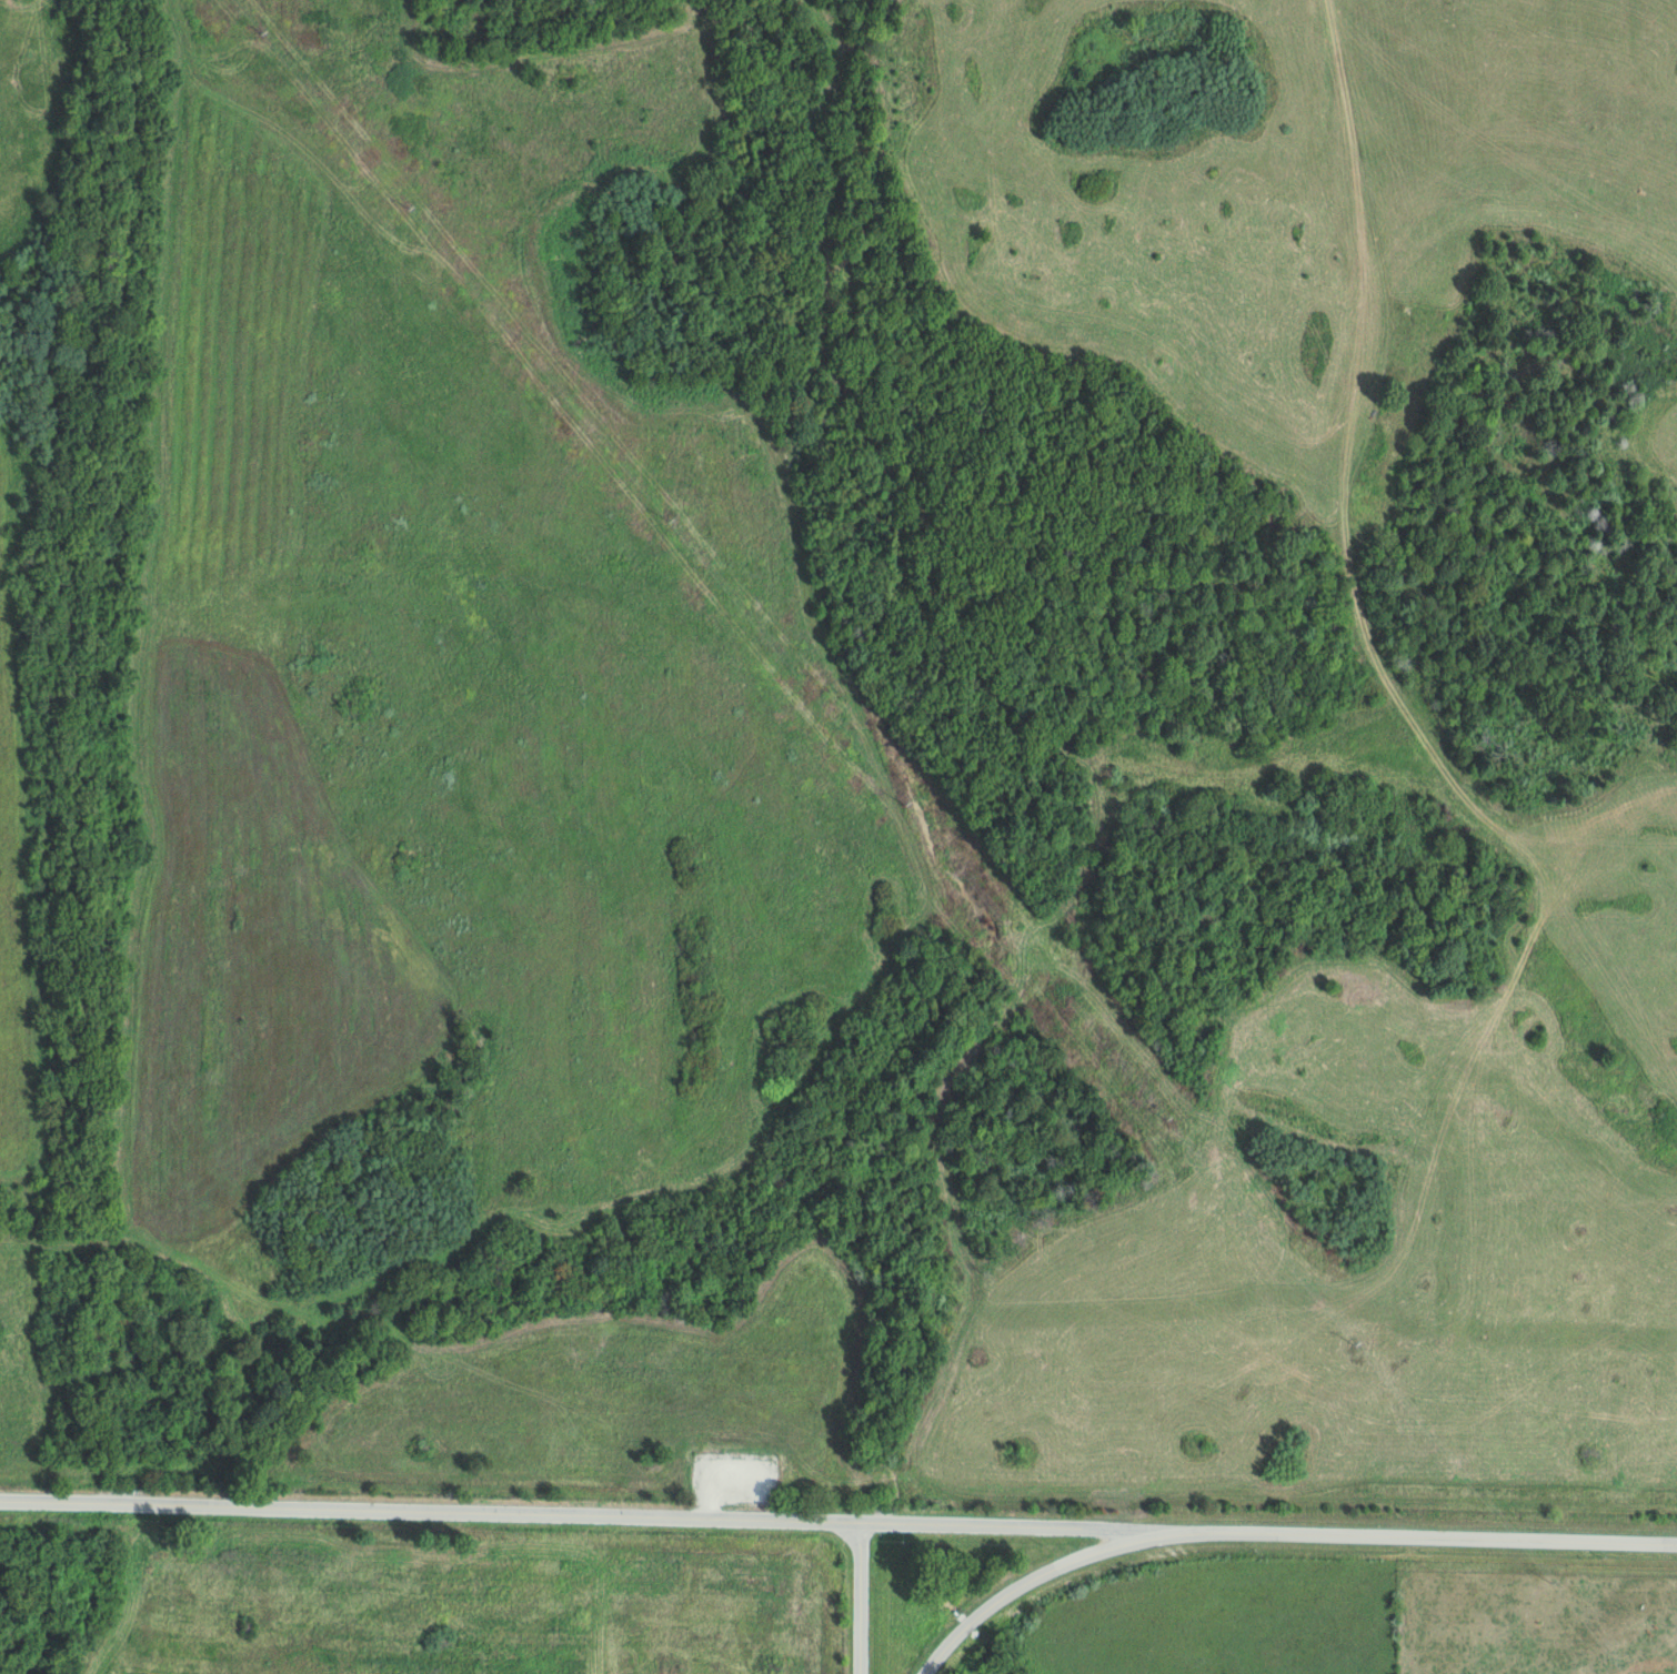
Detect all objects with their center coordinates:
road: (576, 1513)
road: (1415, 1534)
road: (1024, 1580)
road: (856, 1596)

